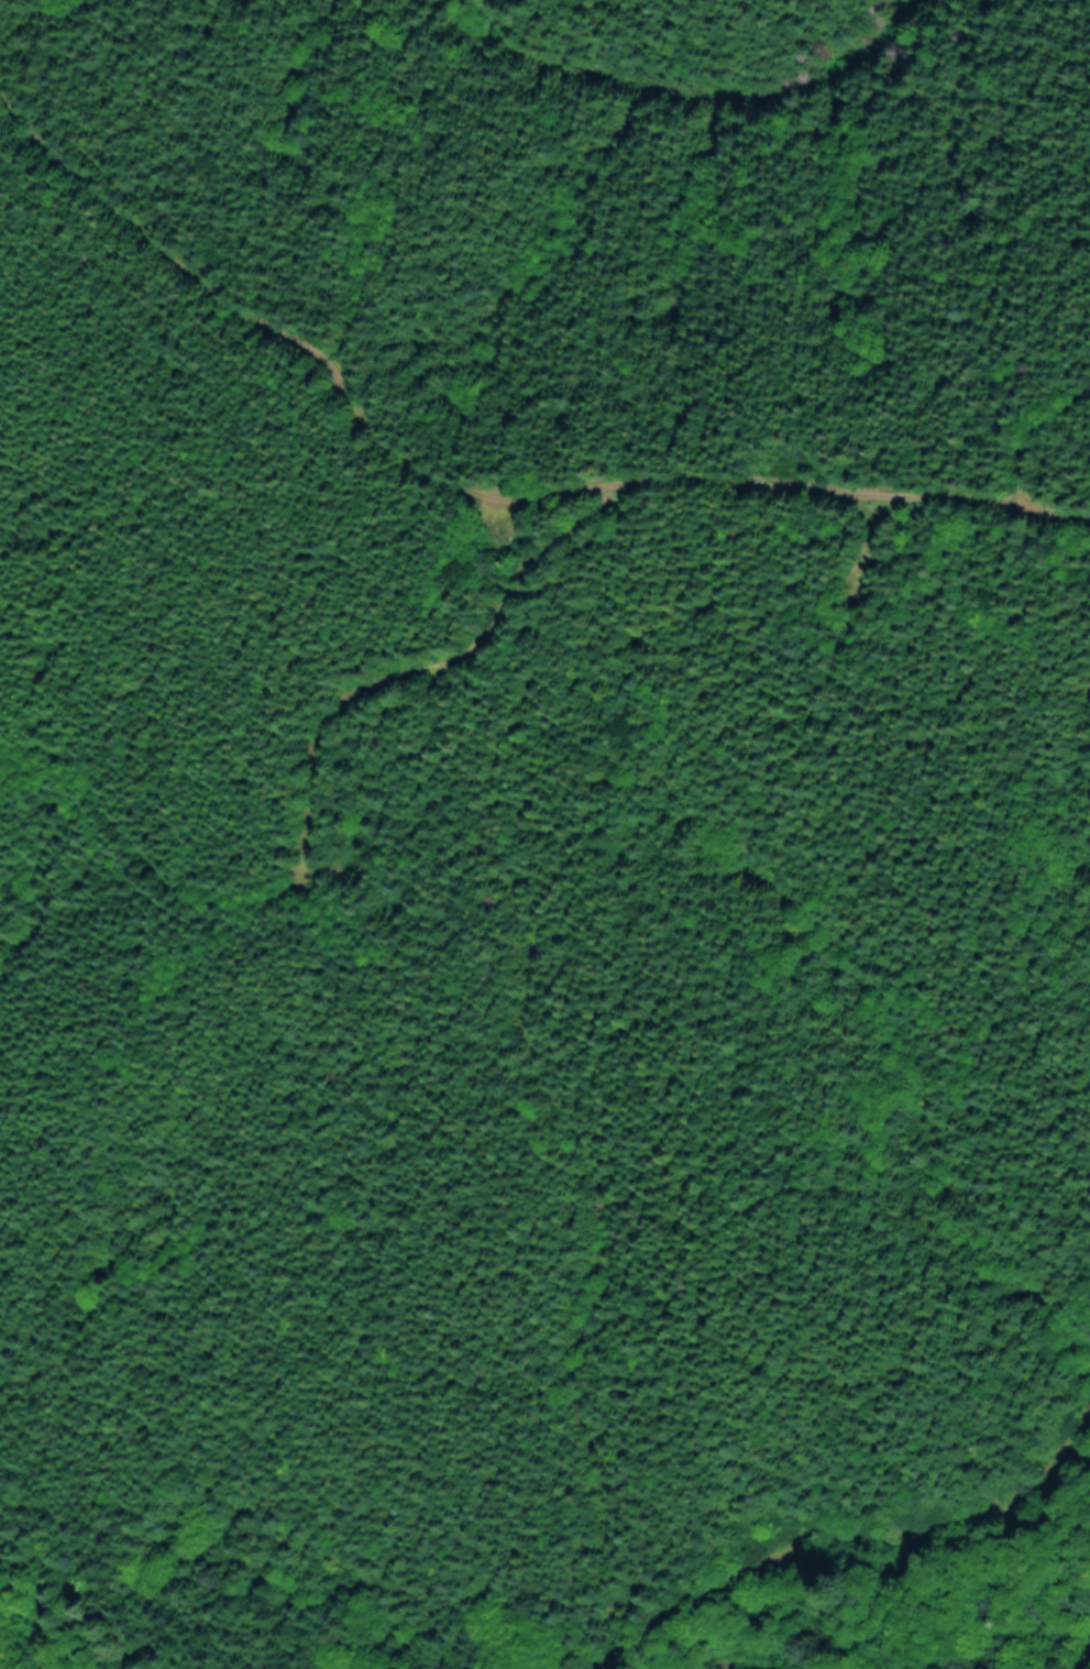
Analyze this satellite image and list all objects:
road: (615, 1568)

